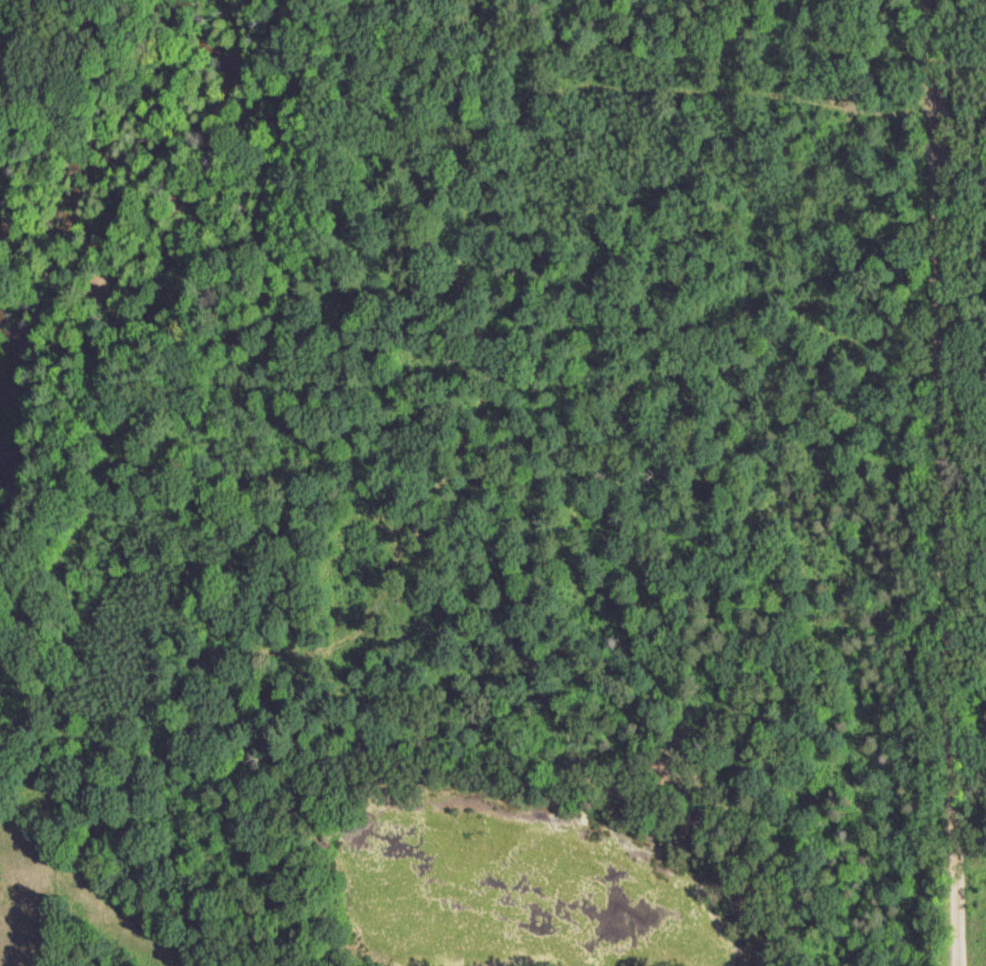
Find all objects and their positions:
road: (950, 483)

